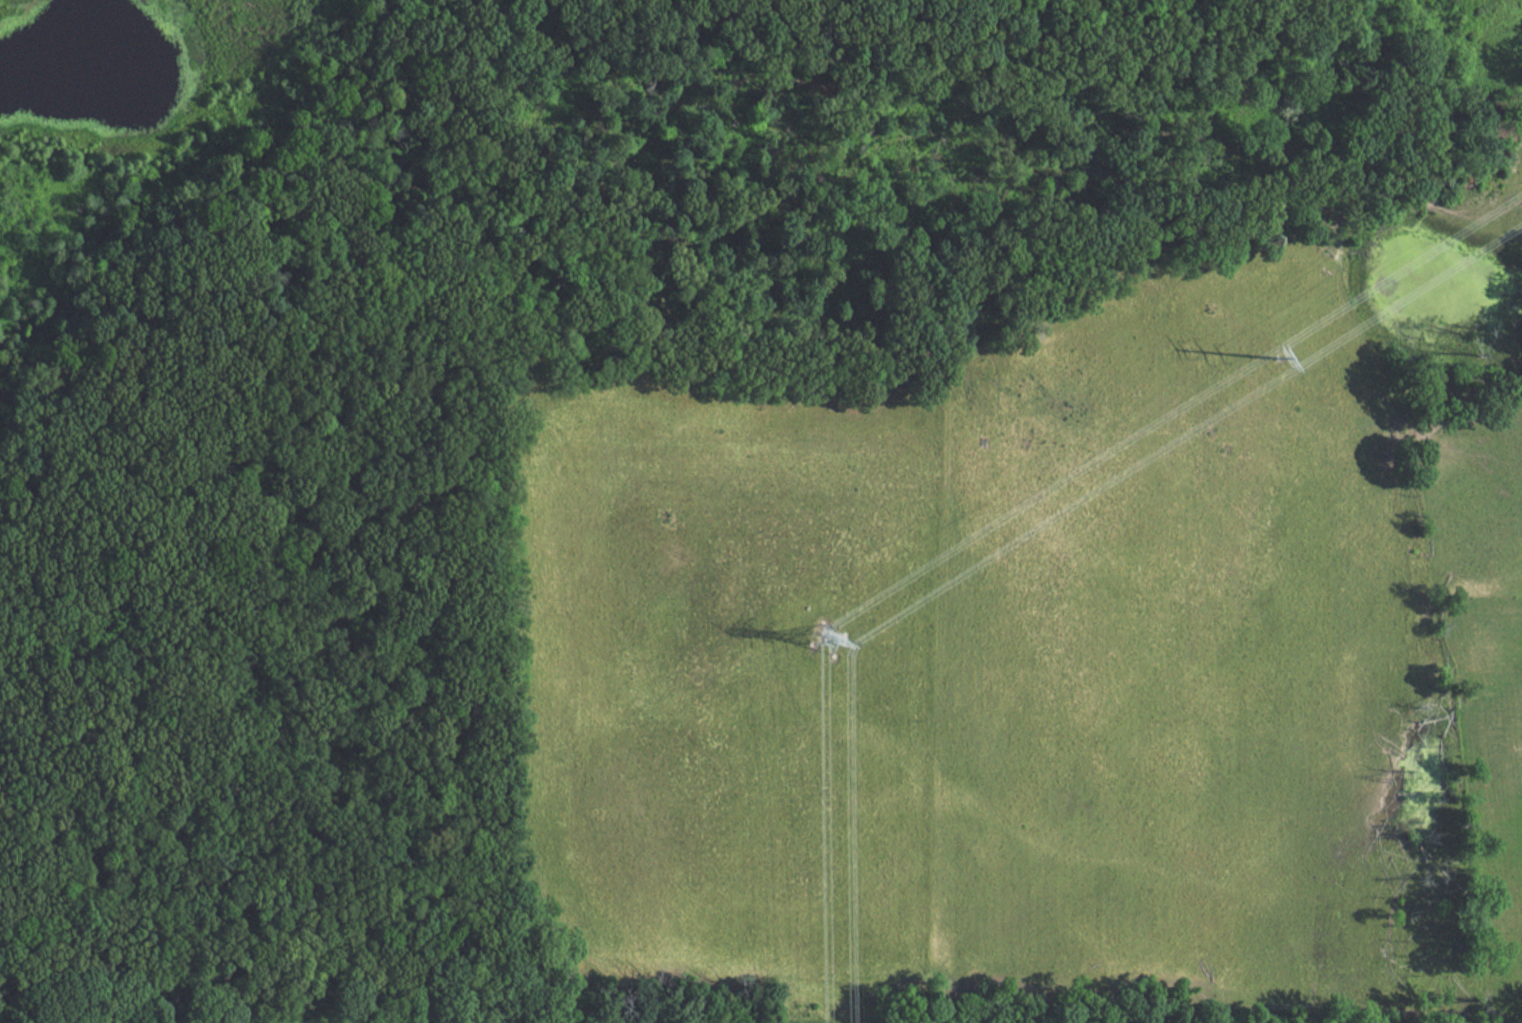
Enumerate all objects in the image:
road: (129, 226)
power tower: (1276, 366)
park: (384, 416)
power tower: (829, 647)
wastewater plant: (334, 1015)

